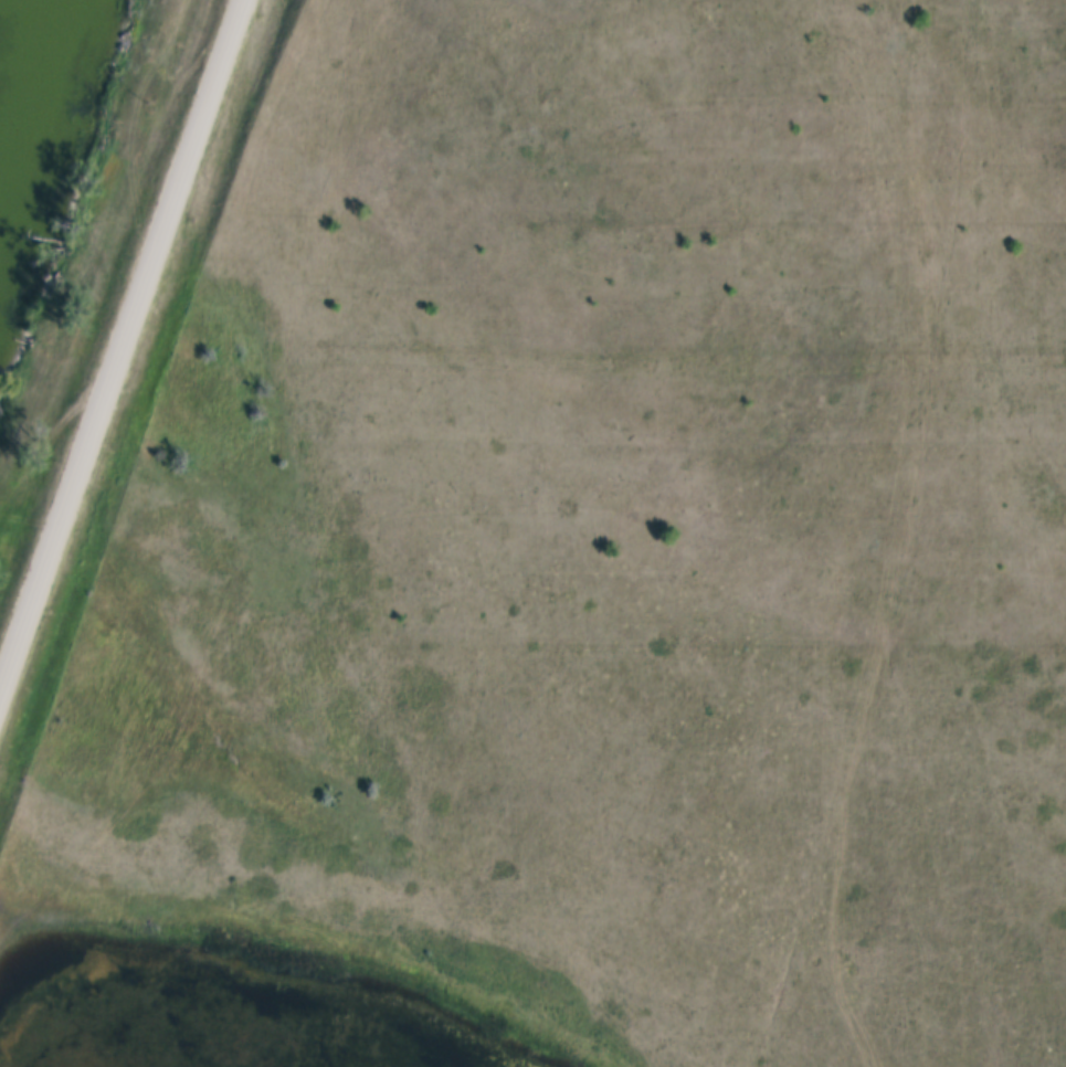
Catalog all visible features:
road: (123, 344)

